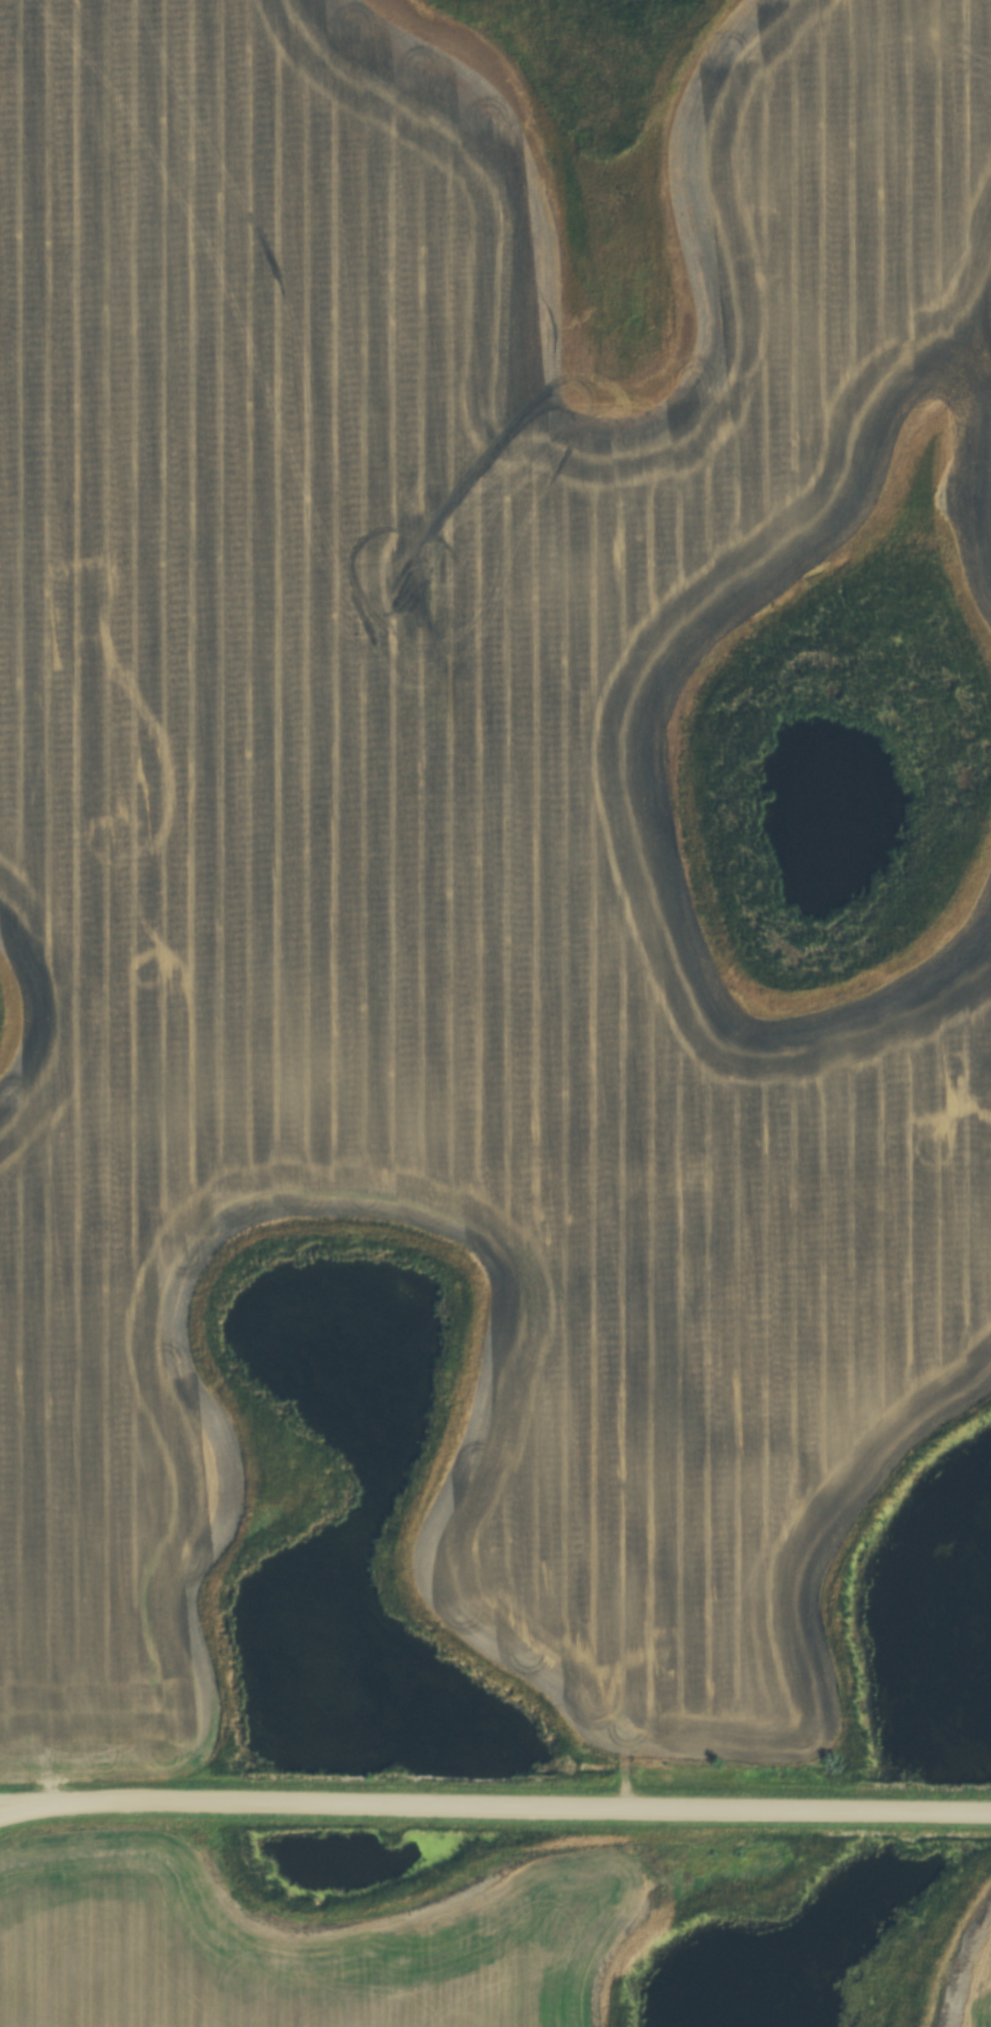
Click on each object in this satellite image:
road: (40, 1798)
road: (40, 1806)
road: (535, 1810)

